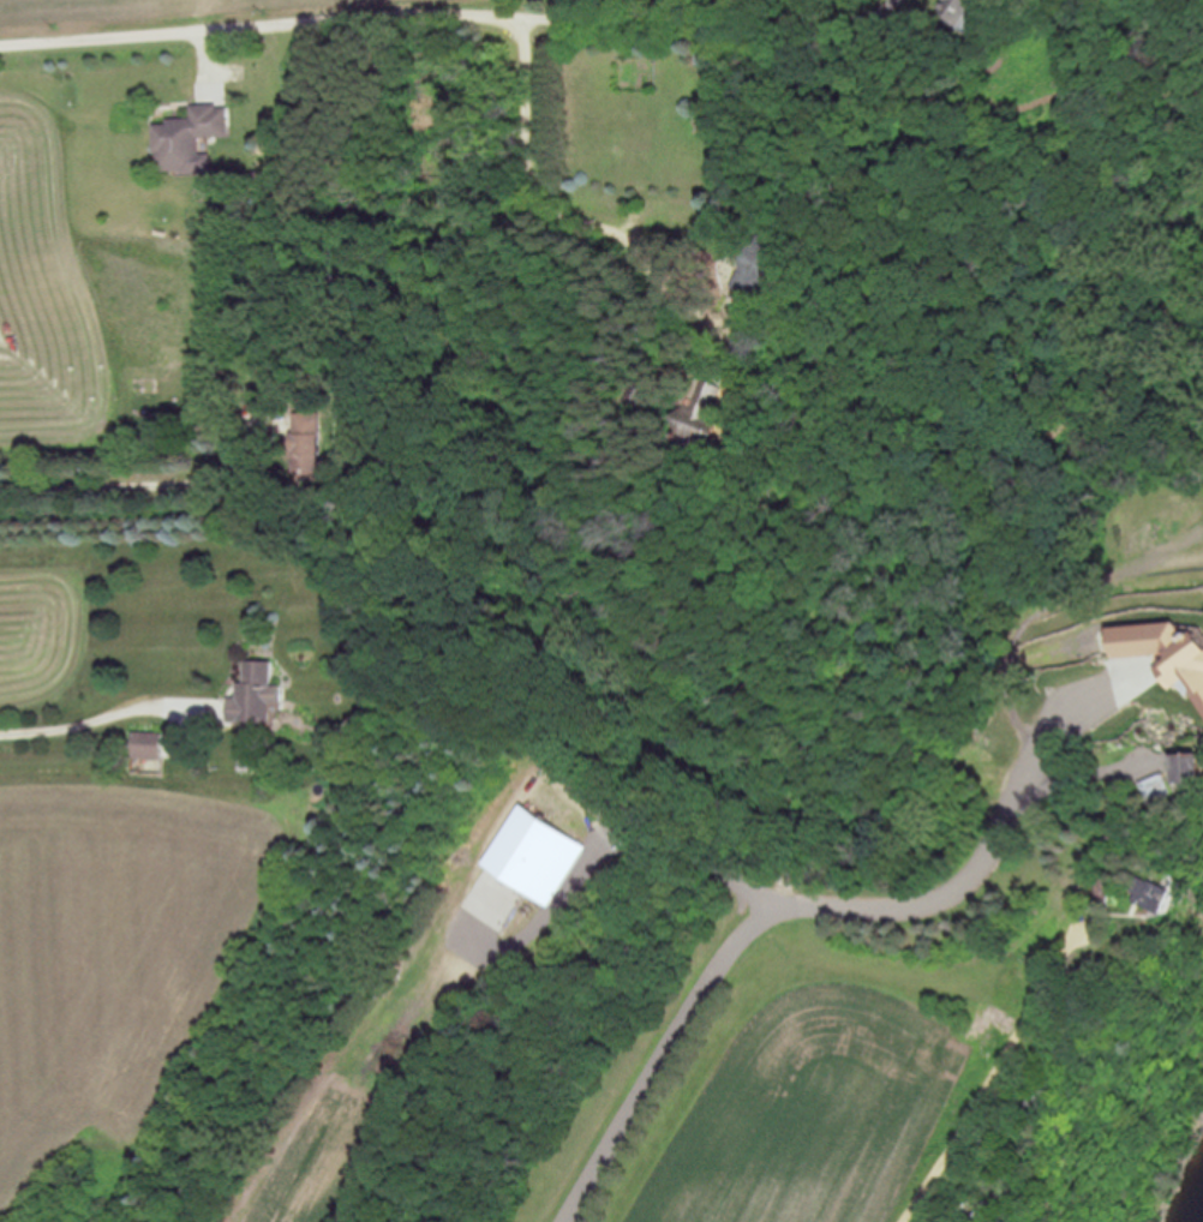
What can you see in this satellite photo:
building: (965, 8)
road: (376, 19)
building: (712, 54)
building: (191, 139)
road: (677, 217)
road: (599, 218)
building: (760, 263)
building: (307, 444)
road: (119, 483)
building: (1167, 651)
building: (253, 694)
road: (98, 713)
building: (146, 744)
road: (654, 847)
building: (527, 849)
building: (870, 867)
road: (794, 903)
road: (994, 1076)
building: (1040, 1106)

